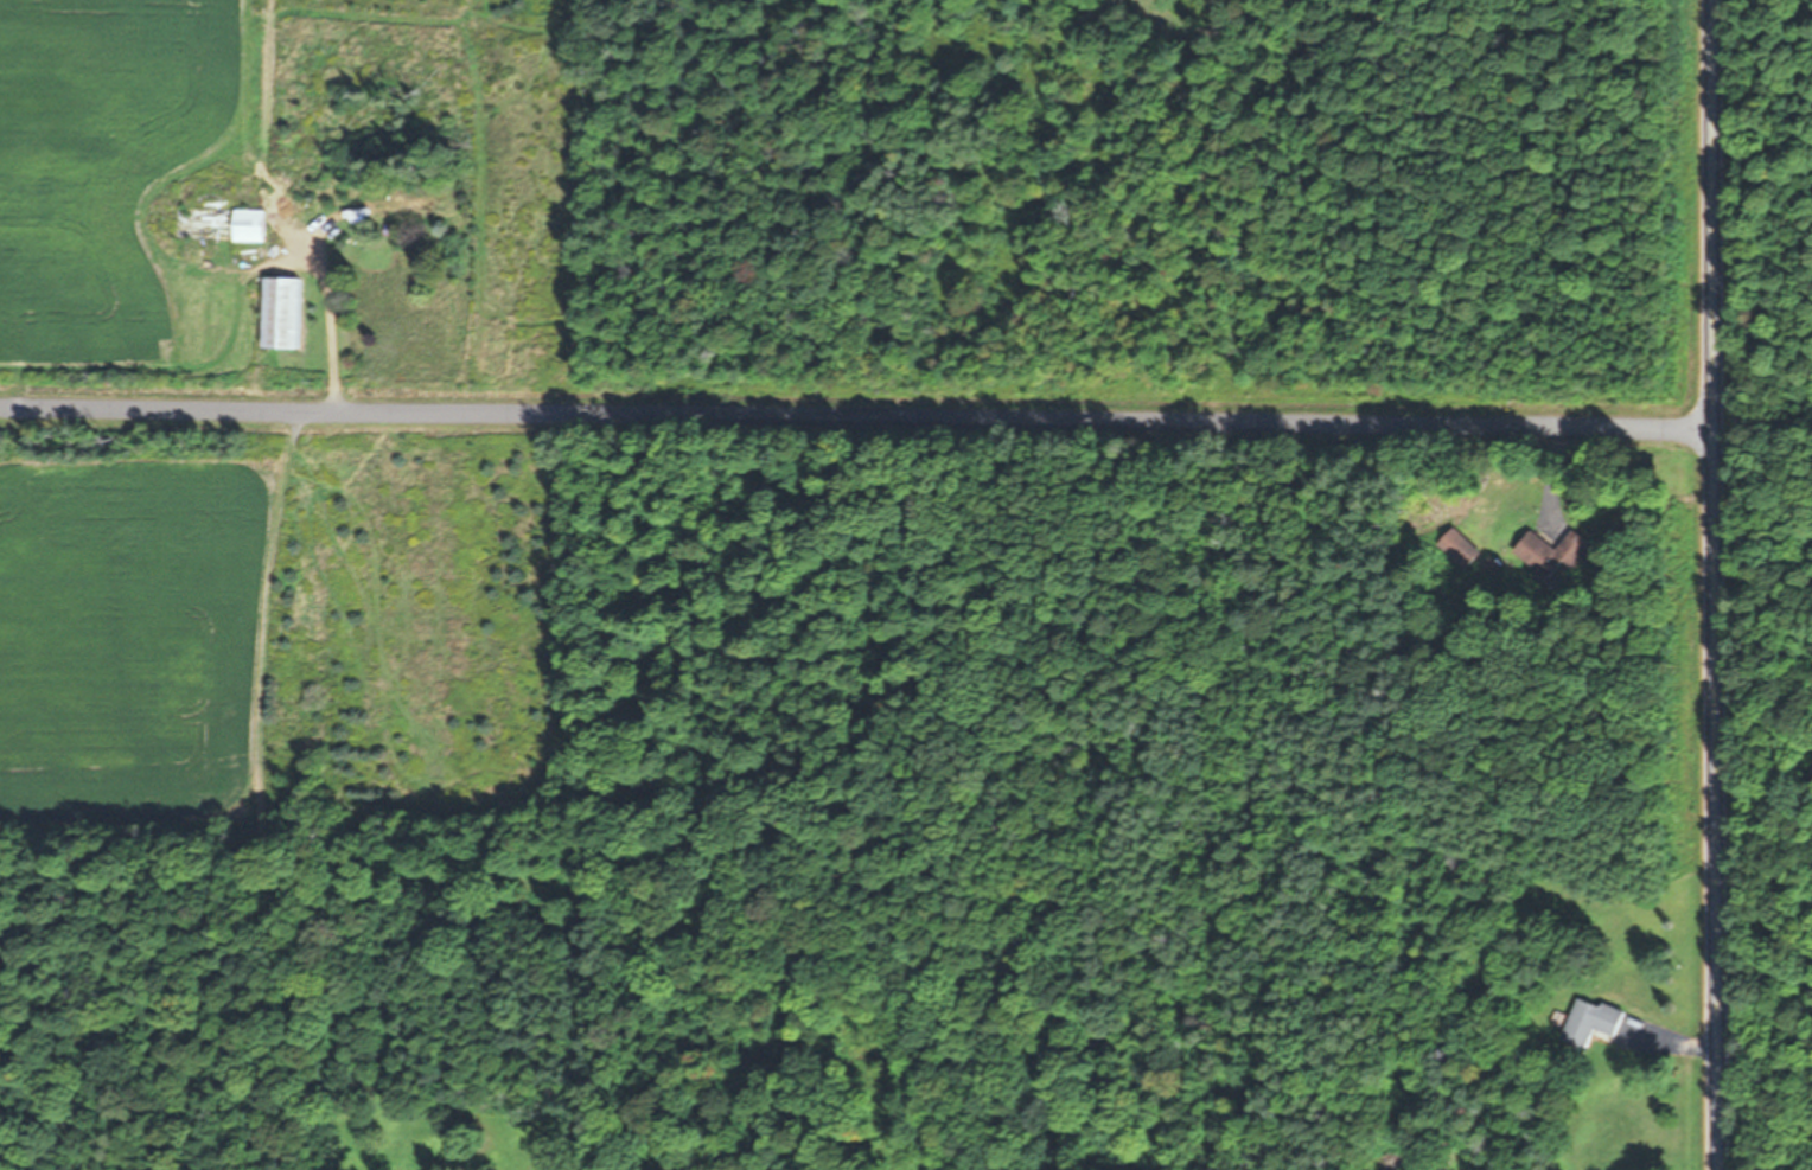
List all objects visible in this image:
crop: (133, 177)
building: (408, 202)
building: (224, 224)
building: (286, 312)
road: (856, 417)
building: (1556, 551)
road: (1714, 584)
crop: (299, 624)
building: (1594, 1022)

